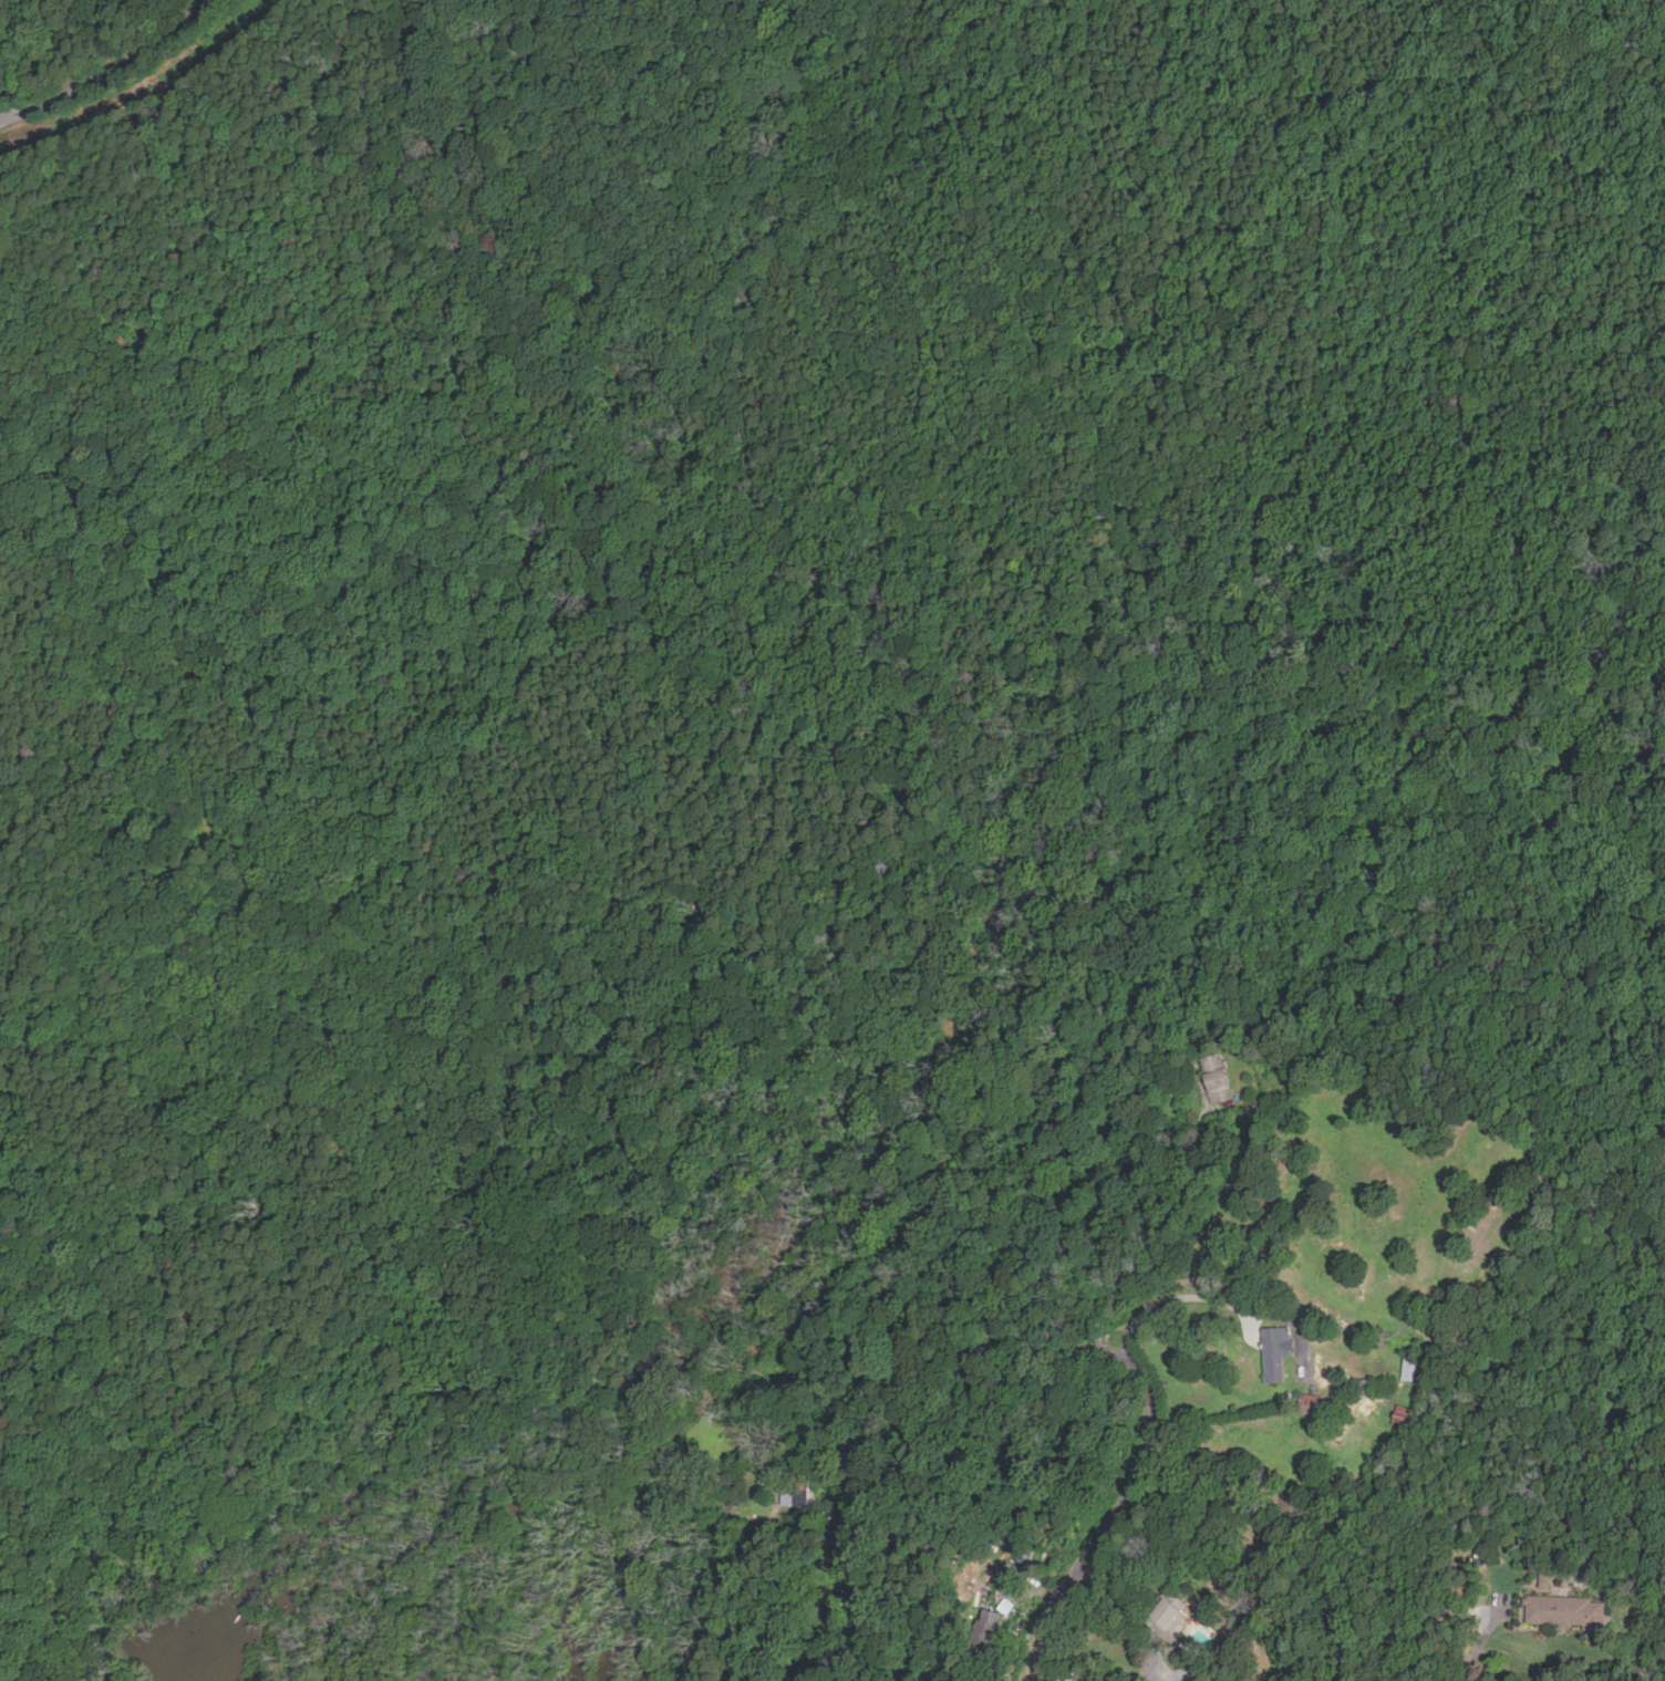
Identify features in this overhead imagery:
road: (112, 72)
road: (144, 89)
road: (221, 902)
building: (1214, 1081)
road: (1173, 1298)
building: (1272, 1352)
building: (1405, 1369)
building: (1318, 1404)
building: (1398, 1420)
road: (1145, 1451)
road: (845, 1476)
road: (1141, 1611)
building: (1565, 1611)
building: (1170, 1612)
building: (986, 1631)
road: (1137, 1680)

